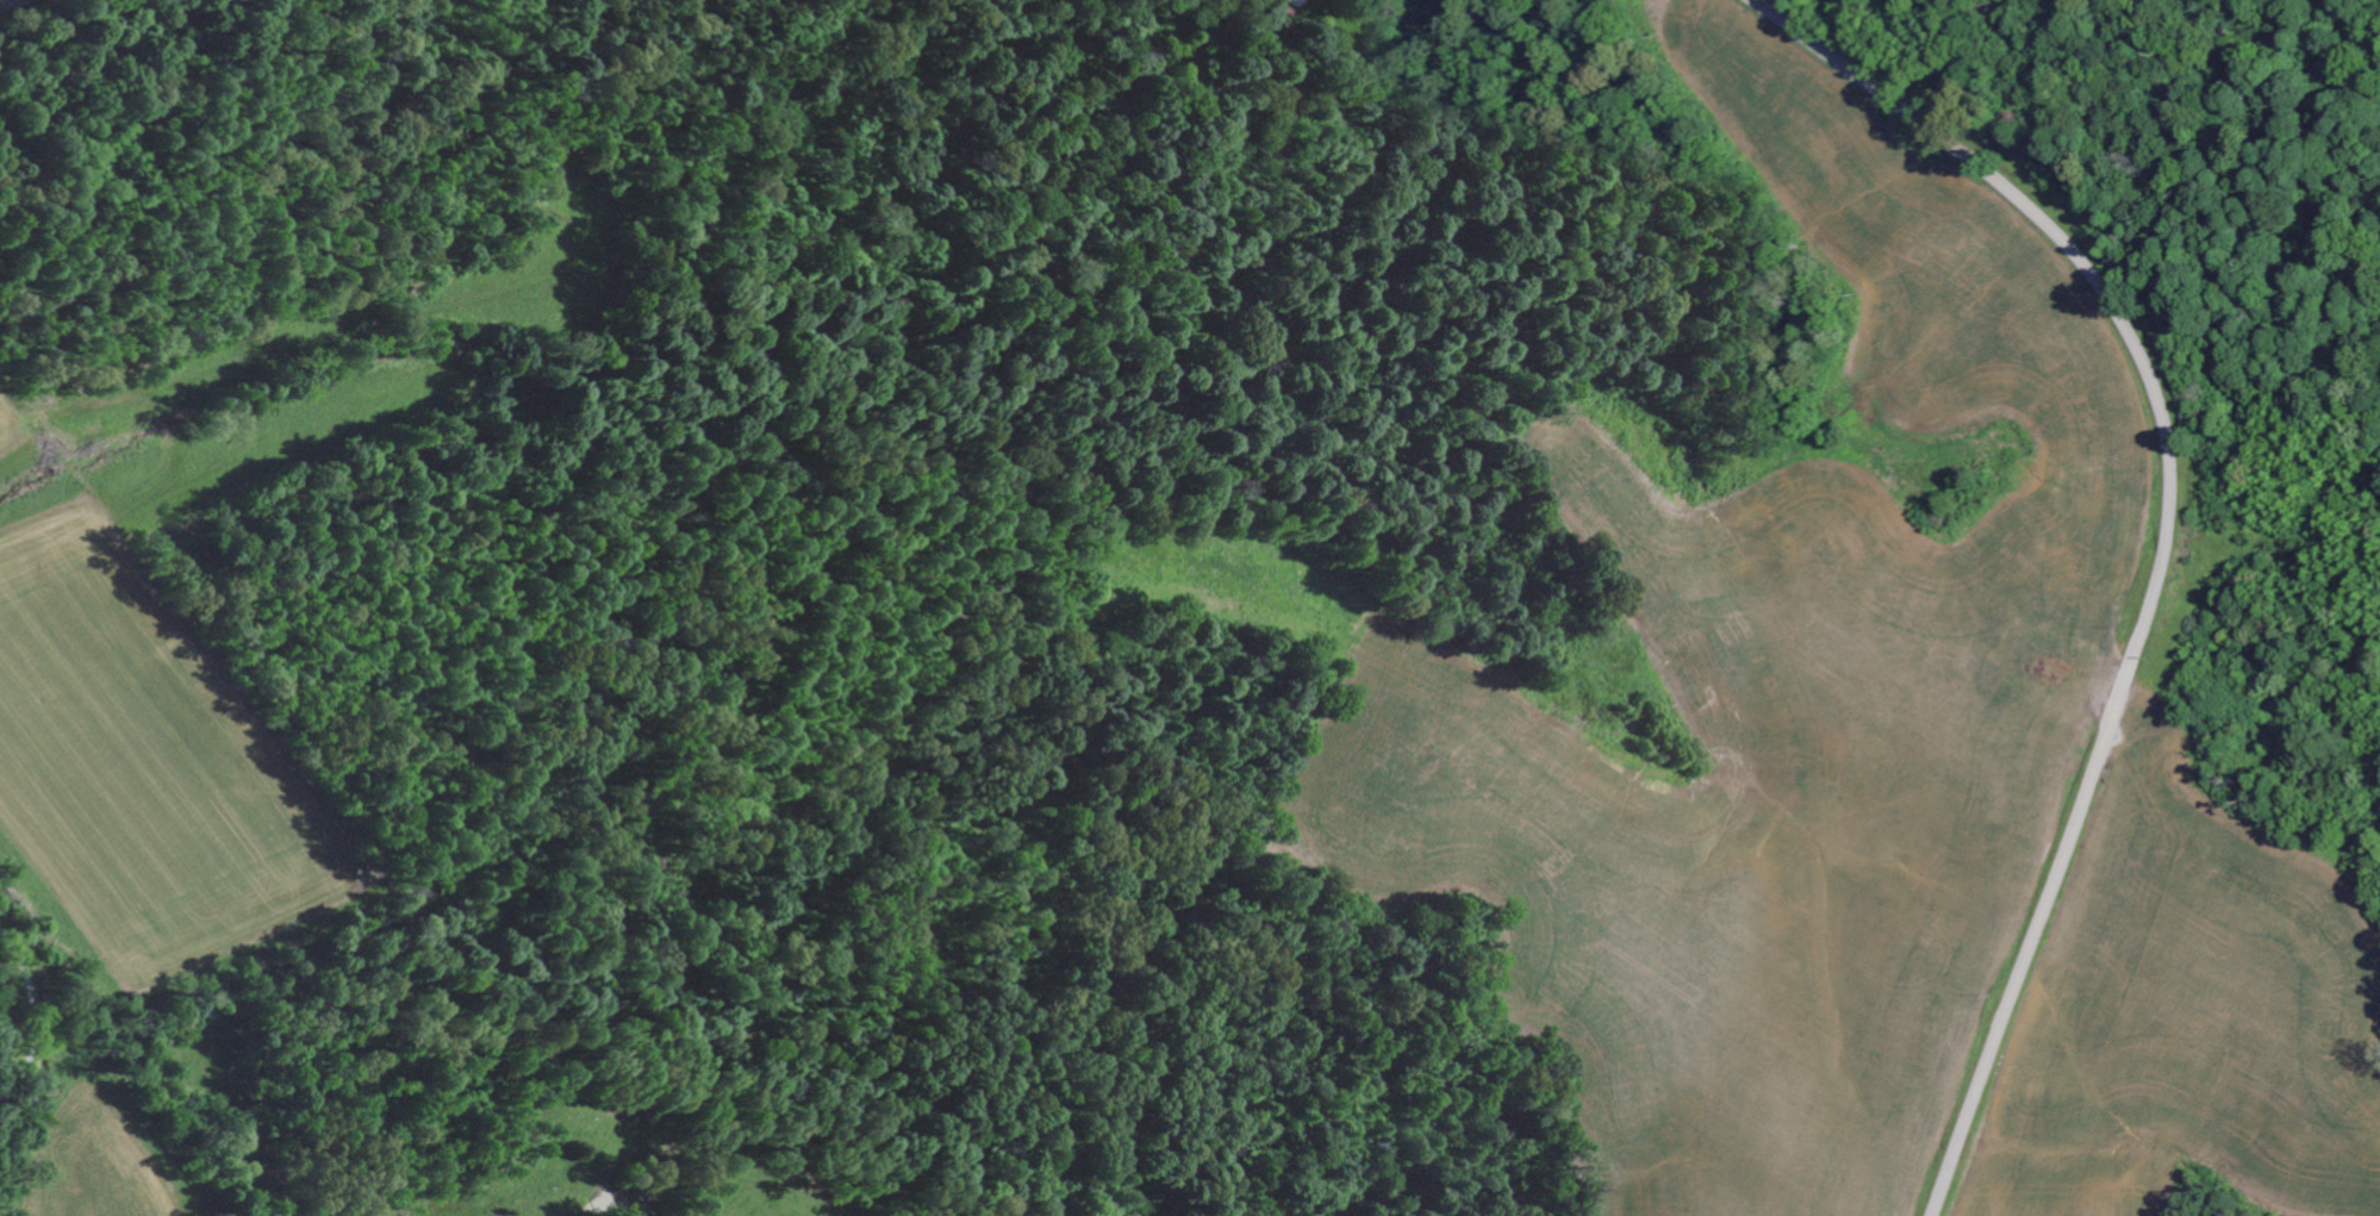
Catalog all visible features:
road: (11, 4)
road: (2173, 536)

